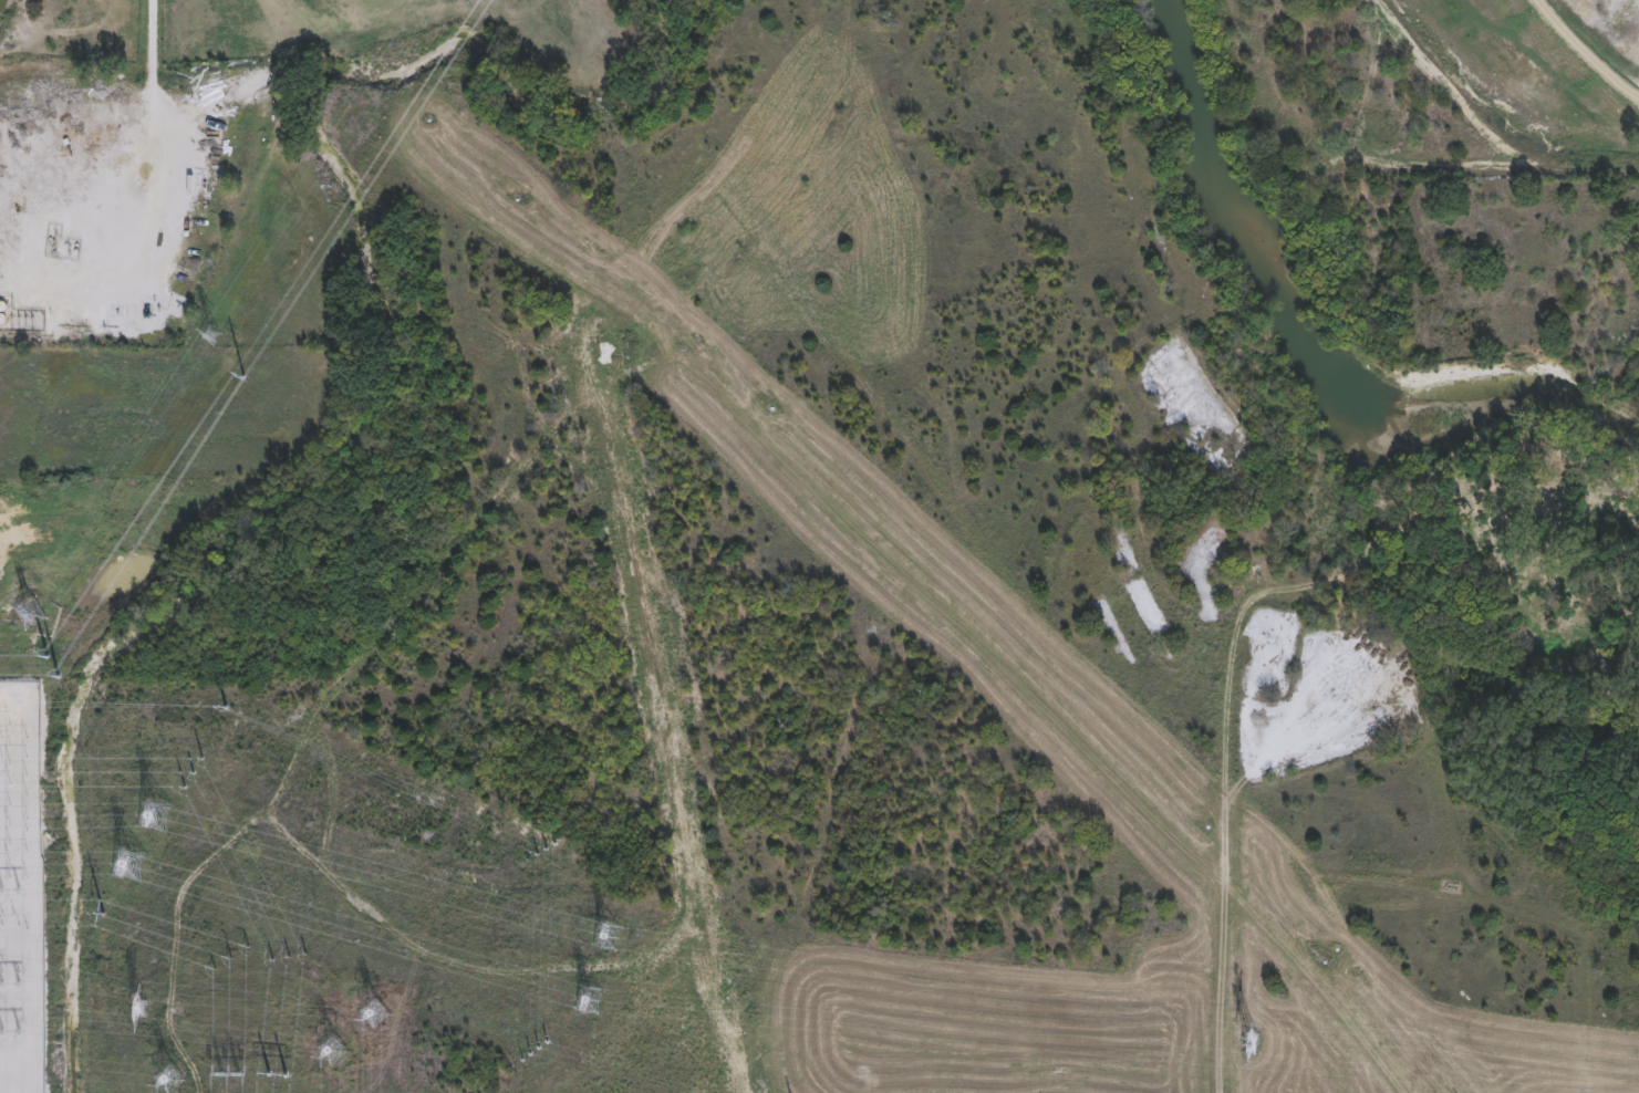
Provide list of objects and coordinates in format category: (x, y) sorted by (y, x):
road: (148, 40)
landfill: (1451, 85)
power tower: (214, 335)
power tower: (246, 375)
building: (1377, 489)
power tower: (35, 612)
power tower: (50, 656)
power tower: (60, 676)
power tower: (13, 699)
power tower: (194, 772)
power tower: (13, 794)
road: (1225, 800)
power tower: (158, 812)
power tower: (135, 865)
power substation: (22, 887)
power tower: (13, 888)
power tower: (105, 914)
power tower: (610, 936)
power tower: (290, 957)
power tower: (231, 958)
power tower: (14, 978)
power tower: (591, 998)
power tower: (145, 1008)
power tower: (376, 1014)
power tower: (14, 1028)
power tower: (1282, 1049)
power tower: (336, 1051)
power tower: (231, 1071)
power tower: (279, 1073)
power tower: (172, 1079)

